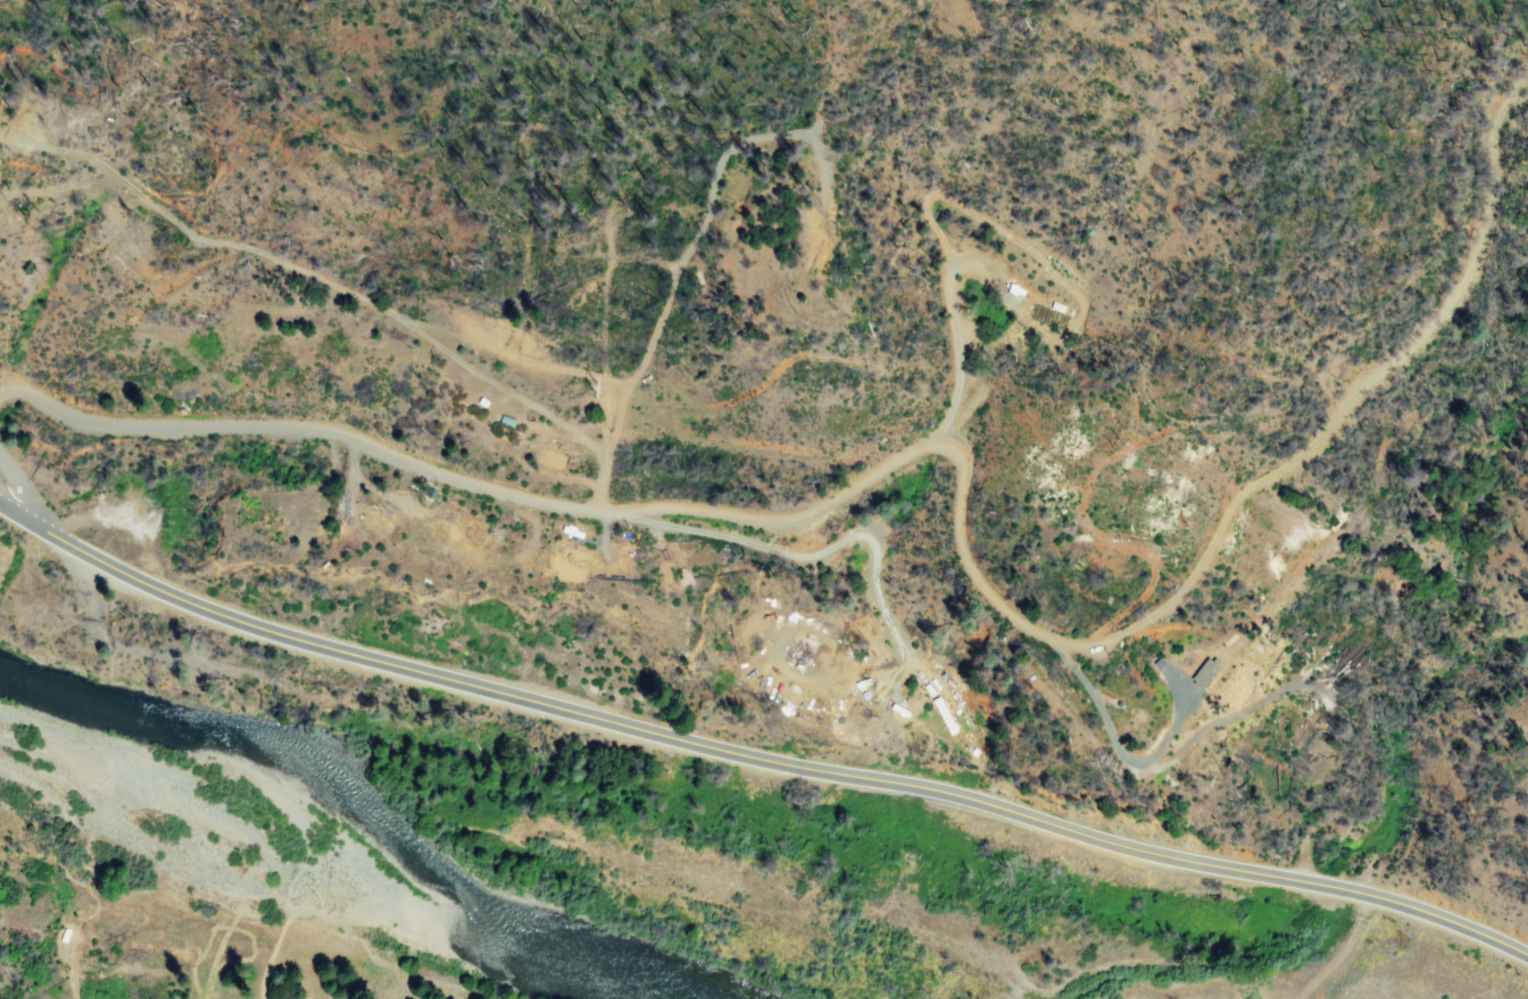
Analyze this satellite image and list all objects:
power tower: (586, 387)
power tower: (1110, 438)
road: (1301, 481)
road: (18, 486)
road: (484, 500)
road: (758, 748)
river: (353, 808)
building: (443, 998)

